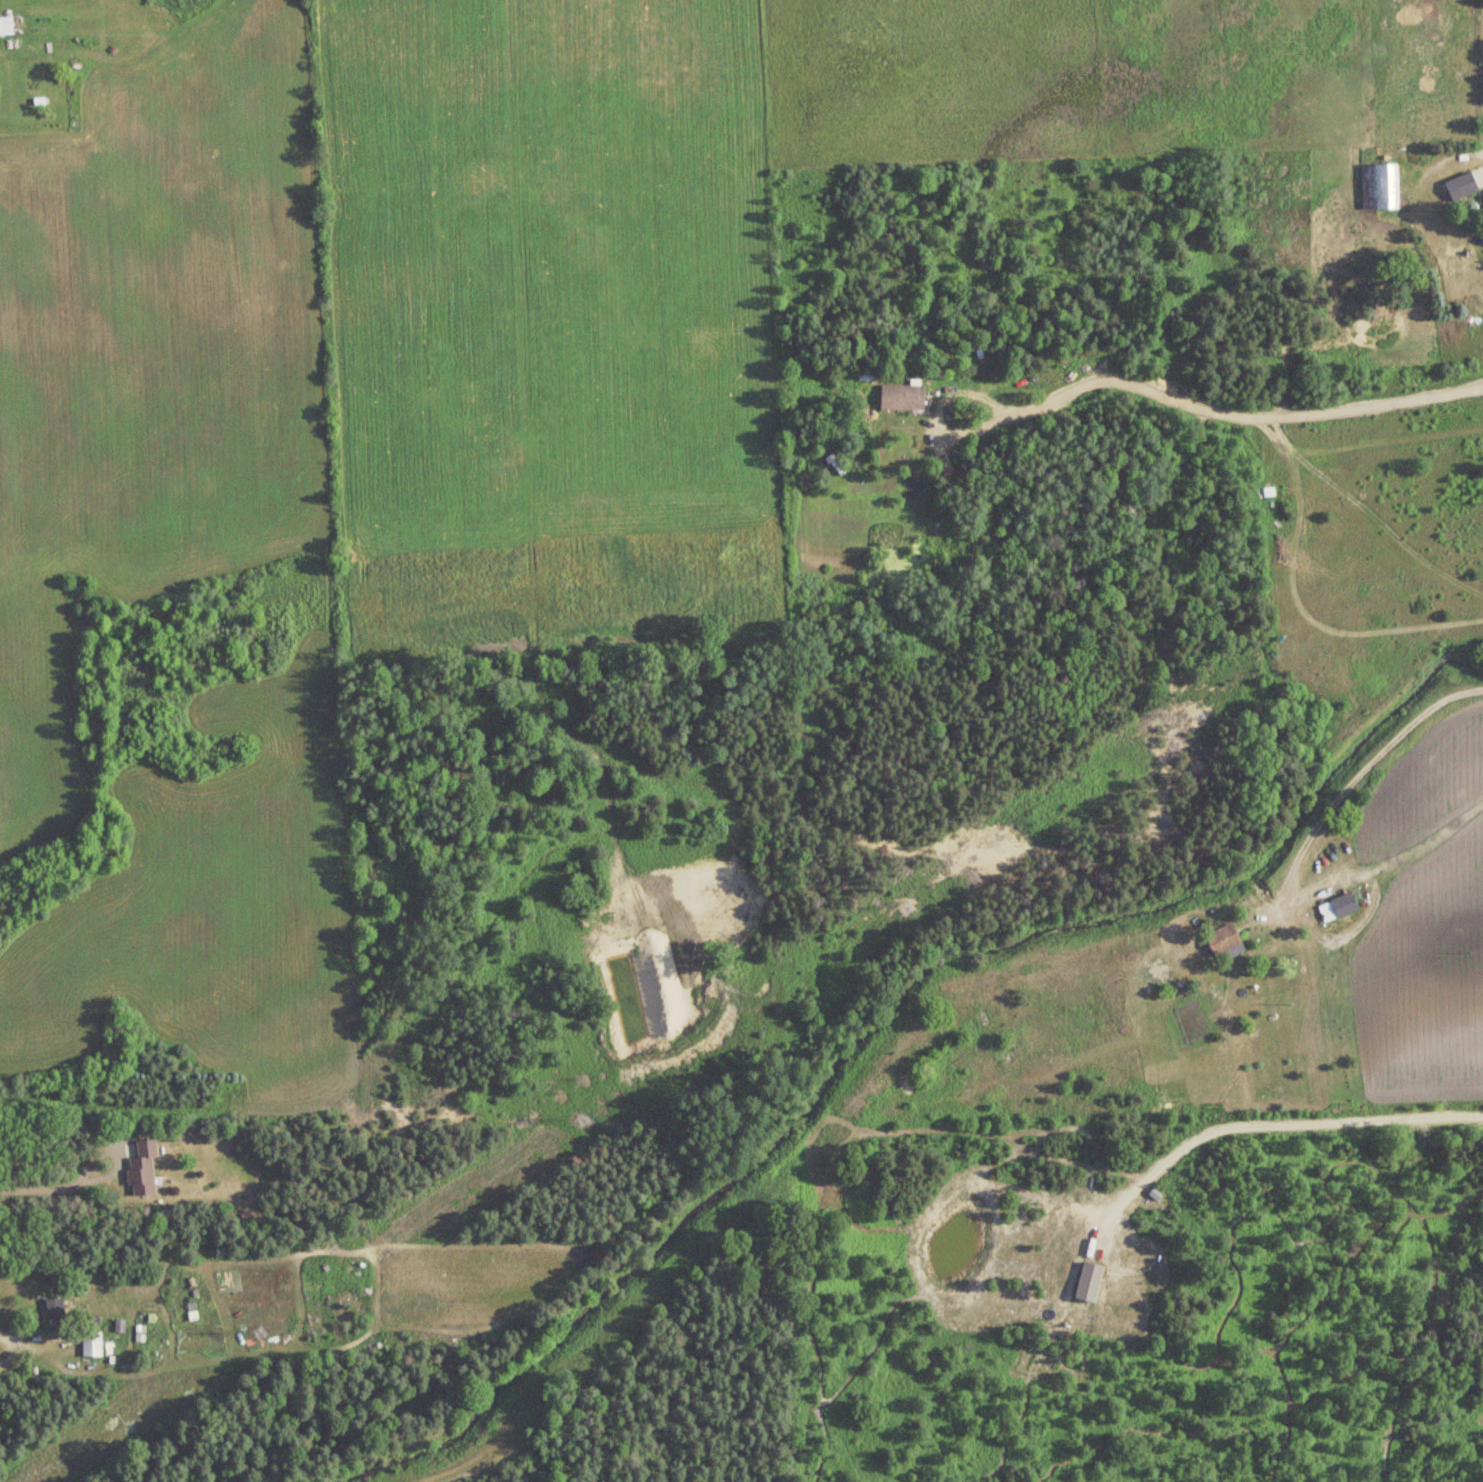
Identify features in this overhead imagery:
building: (1462, 186)
building: (1380, 187)
building: (903, 398)
road: (1239, 409)
road: (932, 412)
power tower: (1199, 711)
road: (1296, 856)
building: (1346, 905)
power tower: (905, 907)
building: (1224, 940)
building: (1014, 1043)
power tower: (587, 1118)
road: (1292, 1121)
building: (144, 1169)
road: (58, 1187)
building: (57, 1315)
power tower: (266, 1331)
road: (14, 1345)
building: (95, 1346)

